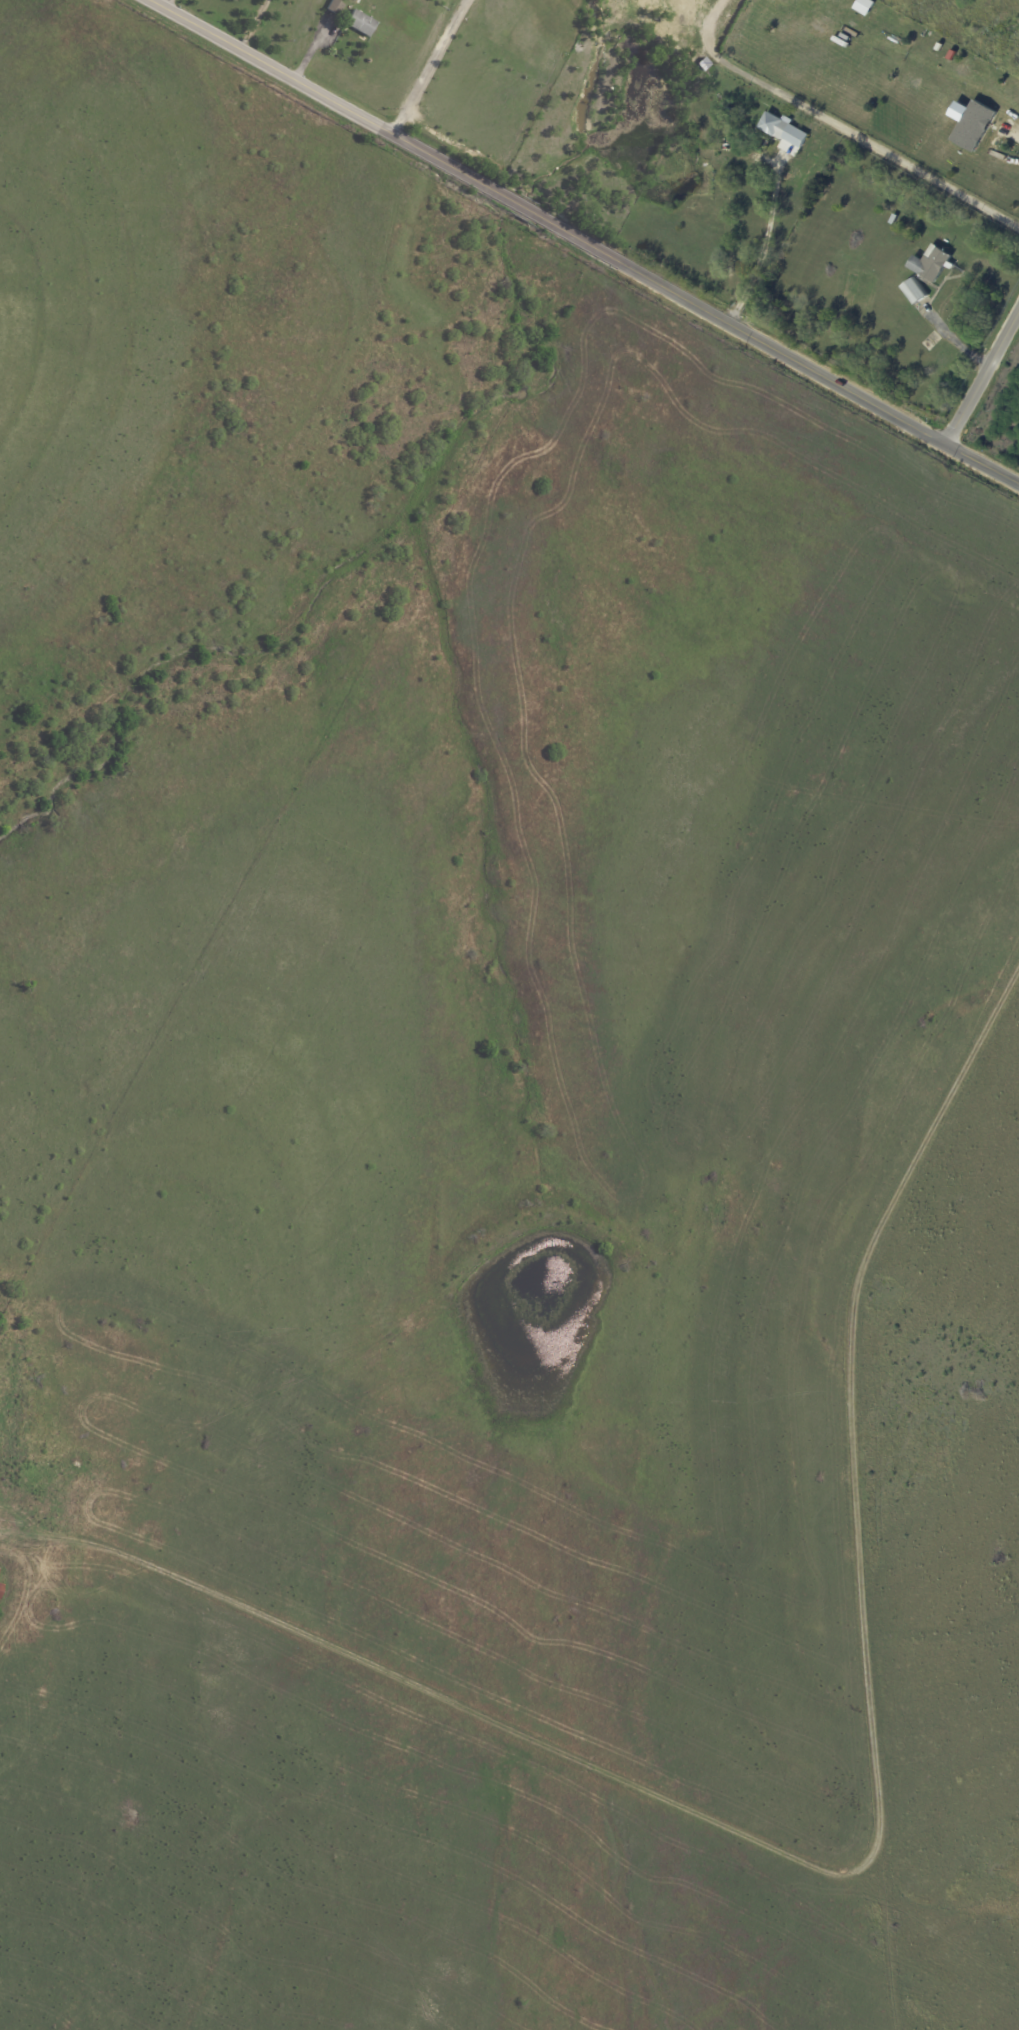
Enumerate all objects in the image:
road: (168, 5)
building: (335, 7)
building: (359, 22)
road: (253, 25)
building: (705, 63)
road: (429, 67)
building: (971, 122)
road: (838, 128)
building: (783, 129)
road: (989, 133)
building: (894, 219)
road: (583, 242)
road: (764, 242)
building: (931, 263)
building: (915, 290)
road: (982, 375)
building: (0, 1569)
building: (1, 1590)
road: (871, 1853)

